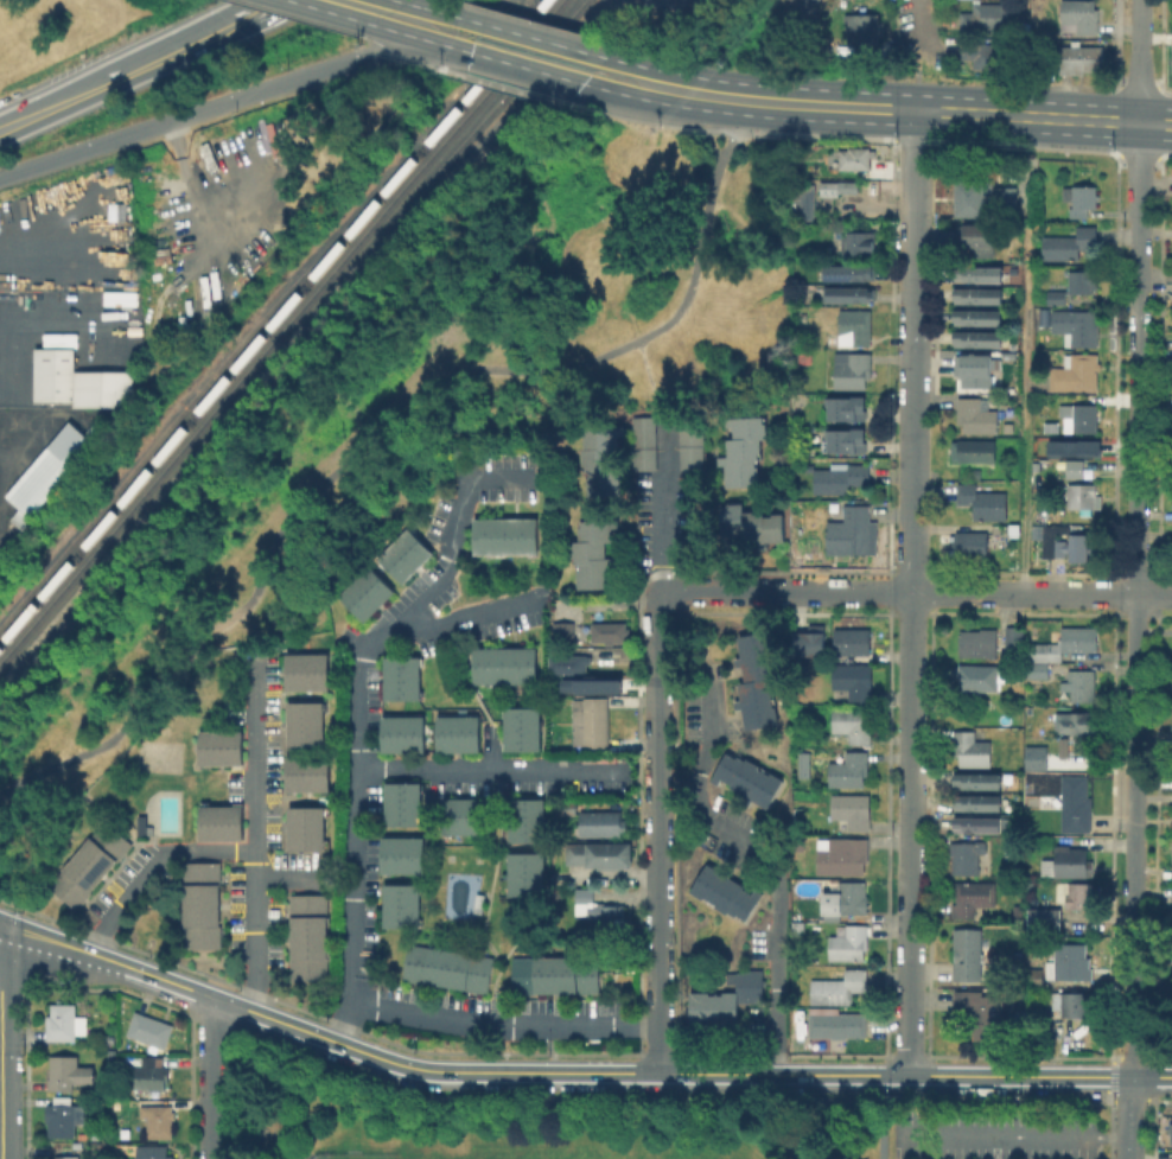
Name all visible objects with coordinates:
road: (456, 0)
road: (266, 5)
road: (363, 7)
road: (422, 8)
road: (801, 13)
building: (1081, 14)
building: (987, 15)
road: (298, 17)
road: (916, 20)
road: (536, 23)
road: (21, 27)
building: (862, 27)
road: (363, 34)
road: (415, 37)
road: (531, 38)
road: (918, 51)
road: (374, 53)
building: (988, 53)
building: (1170, 56)
building: (1082, 58)
road: (1140, 61)
road: (409, 62)
road: (518, 64)
road: (128, 70)
road: (655, 70)
railway: (470, 72)
road: (503, 84)
road: (916, 95)
road: (642, 98)
road: (861, 106)
road: (206, 108)
road: (700, 112)
road: (633, 116)
road: (1097, 119)
road: (190, 123)
road: (720, 130)
road: (820, 135)
road: (912, 140)
road: (1024, 144)
road: (709, 148)
road: (1138, 153)
road: (1163, 153)
building: (854, 157)
road: (913, 166)
building: (846, 185)
building: (826, 187)
building: (985, 198)
building: (1083, 199)
building: (798, 200)
building: (861, 238)
building: (976, 240)
building: (1069, 243)
road: (912, 247)
building: (852, 269)
building: (979, 269)
building: (1074, 286)
road: (912, 288)
building: (977, 289)
building: (852, 292)
building: (979, 313)
railway: (272, 319)
road: (63, 320)
building: (1077, 325)
building: (855, 326)
railway: (279, 329)
building: (979, 335)
railway: (289, 337)
road: (912, 350)
road: (1025, 354)
building: (852, 369)
building: (979, 369)
building: (1072, 371)
road: (649, 376)
building: (77, 380)
railway: (191, 395)
park: (420, 395)
building: (849, 406)
building: (976, 415)
building: (1082, 415)
road: (912, 422)
building: (1008, 426)
building: (847, 438)
road: (376, 439)
building: (642, 441)
road: (11, 444)
building: (1072, 446)
building: (689, 448)
building: (974, 450)
building: (740, 451)
building: (599, 458)
building: (1058, 463)
building: (1075, 467)
building: (51, 469)
building: (840, 477)
road: (912, 477)
building: (1082, 496)
building: (983, 501)
road: (662, 502)
building: (747, 523)
building: (1038, 529)
building: (851, 531)
building: (502, 534)
building: (1079, 539)
building: (1051, 540)
building: (972, 543)
building: (1060, 545)
road: (912, 548)
building: (594, 552)
building: (403, 553)
building: (364, 591)
road: (917, 593)
road: (459, 617)
building: (610, 631)
building: (565, 632)
building: (1015, 635)
building: (809, 637)
building: (853, 641)
road: (1135, 641)
building: (979, 642)
building: (1064, 643)
building: (569, 662)
building: (502, 663)
building: (304, 669)
building: (1038, 669)
building: (400, 675)
building: (980, 676)
building: (853, 679)
building: (759, 683)
building: (1082, 683)
building: (1171, 690)
road: (353, 708)
building: (302, 721)
building: (1077, 721)
building: (853, 724)
building: (594, 725)
building: (520, 726)
building: (400, 731)
building: (454, 731)
building: (1171, 733)
building: (217, 745)
building: (1060, 746)
building: (972, 749)
building: (1033, 756)
building: (849, 769)
road: (488, 770)
building: (305, 771)
building: (750, 781)
building: (981, 782)
building: (400, 802)
building: (1072, 803)
building: (981, 804)
building: (568, 807)
building: (852, 810)
building: (459, 814)
building: (523, 819)
building: (218, 821)
building: (601, 823)
building: (304, 824)
building: (981, 826)
road: (658, 832)
road: (255, 834)
road: (911, 834)
building: (1044, 843)
building: (400, 853)
building: (600, 853)
building: (842, 854)
building: (967, 855)
building: (1171, 856)
building: (1071, 861)
building: (88, 862)
road: (154, 868)
road: (776, 868)
building: (523, 872)
road: (289, 879)
building: (727, 892)
building: (1081, 894)
building: (973, 897)
building: (847, 902)
building: (399, 903)
building: (198, 904)
building: (1017, 909)
building: (601, 911)
building: (1060, 916)
building: (1042, 918)
building: (800, 926)
road: (5, 930)
building: (306, 936)
building: (849, 944)
building: (968, 954)
building: (1069, 961)
building: (445, 966)
building: (553, 973)
building: (1033, 976)
building: (1168, 985)
building: (839, 987)
building: (725, 1001)
building: (1079, 1002)
building: (982, 1012)
building: (65, 1021)
building: (849, 1024)
road: (503, 1026)
building: (152, 1031)
building: (1050, 1036)
road: (1, 1043)
road: (552, 1049)
building: (155, 1071)
building: (68, 1072)
road: (573, 1072)
road: (210, 1078)
road: (284, 1087)
building: (64, 1116)
road: (883, 1117)
building: (159, 1120)
park: (501, 1121)
road: (986, 1129)
building: (1171, 1133)
park: (568, 1148)
building: (65, 1152)
building: (153, 1152)
park: (414, 1154)
building: (1171, 1154)

